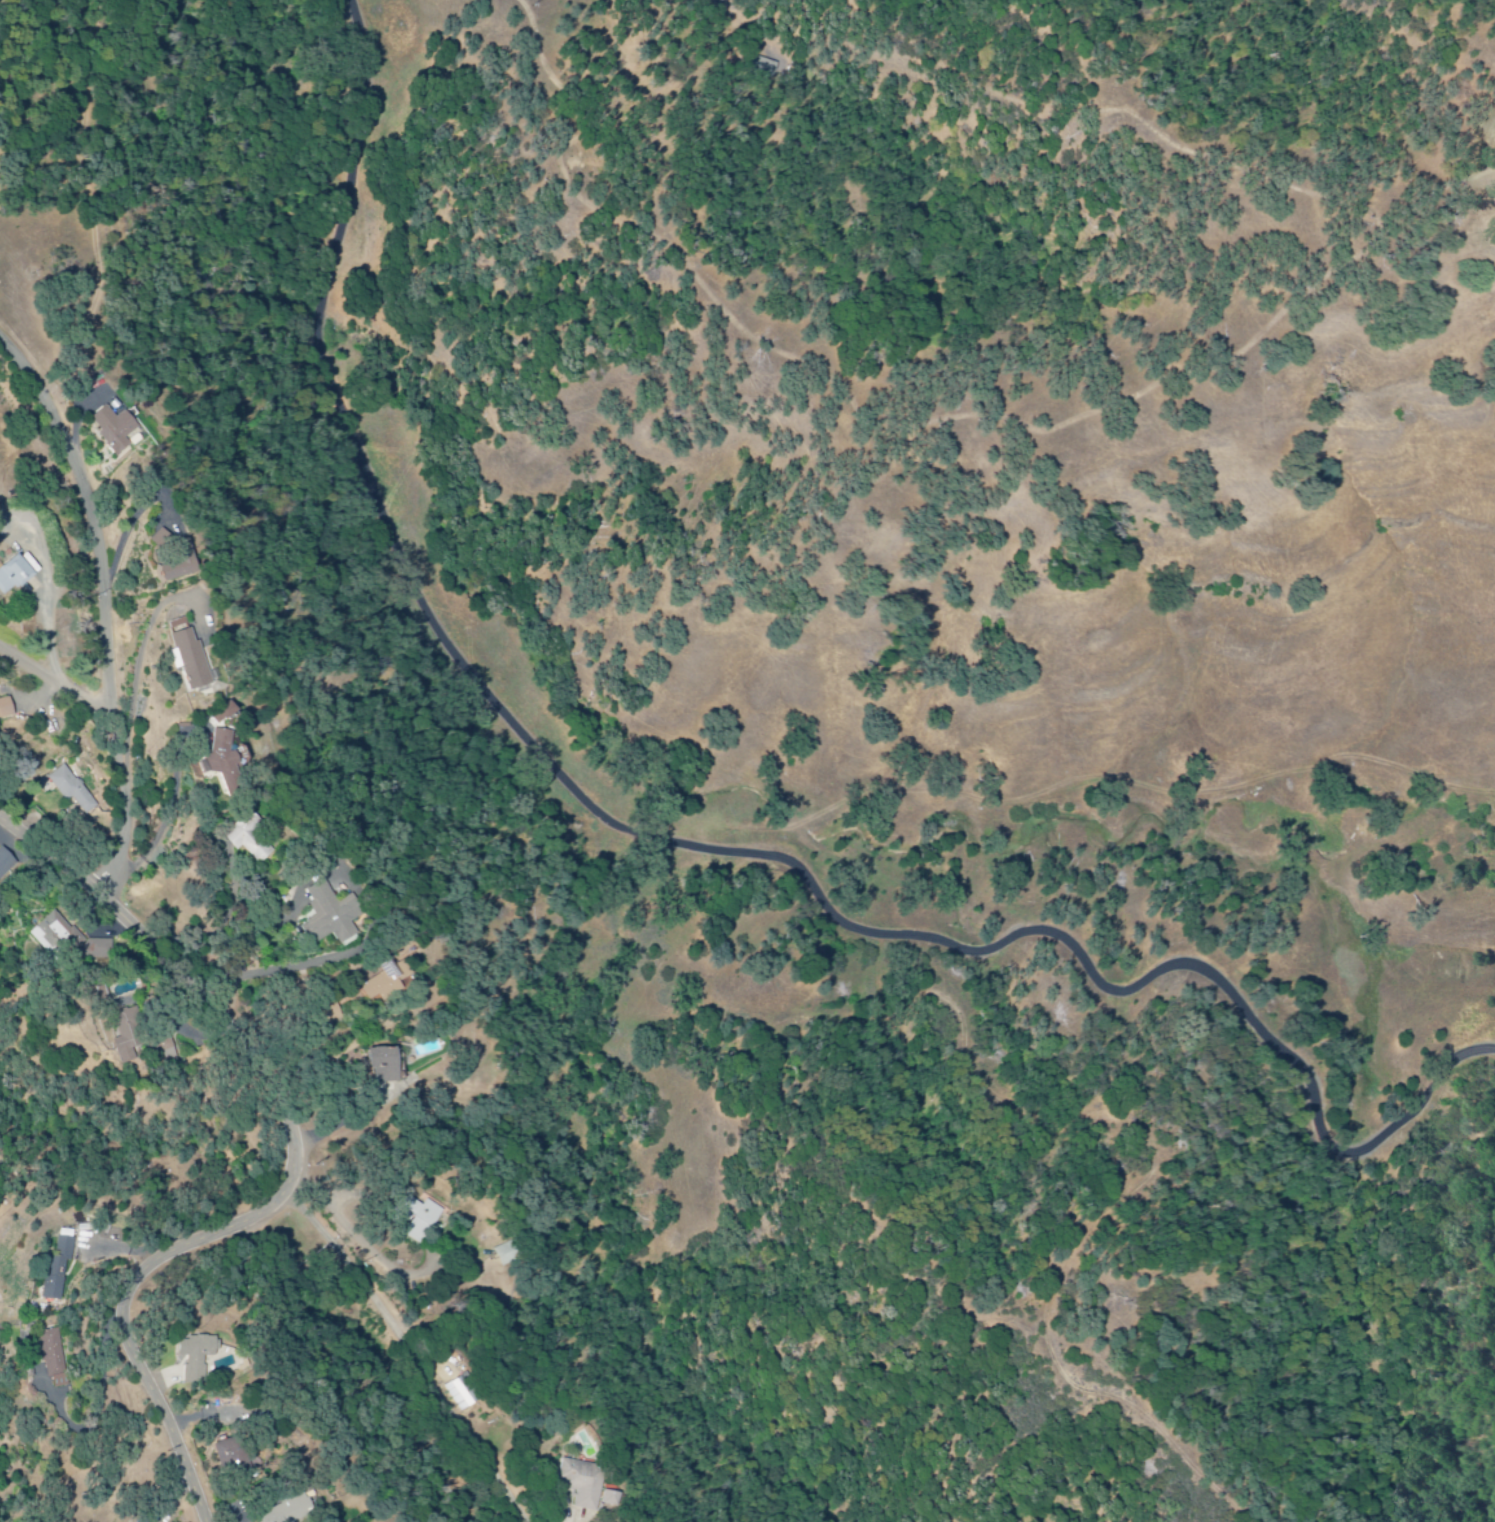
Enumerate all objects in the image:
building: (117, 430)
building: (168, 540)
building: (32, 564)
building: (186, 569)
building: (15, 576)
road: (107, 607)
road: (50, 609)
building: (185, 626)
building: (197, 660)
road: (53, 682)
building: (4, 713)
building: (228, 761)
road: (1088, 783)
building: (74, 791)
building: (254, 839)
road: (694, 845)
building: (6, 863)
building: (338, 916)
building: (57, 935)
building: (101, 950)
road: (245, 959)
building: (389, 986)
building: (130, 1035)
building: (166, 1050)
building: (387, 1066)
road: (296, 1169)
building: (421, 1220)
road: (342, 1224)
building: (506, 1255)
building: (59, 1267)
building: (197, 1357)
building: (54, 1360)
building: (463, 1396)
building: (233, 1456)
building: (584, 1484)
building: (613, 1500)
building: (291, 1512)

